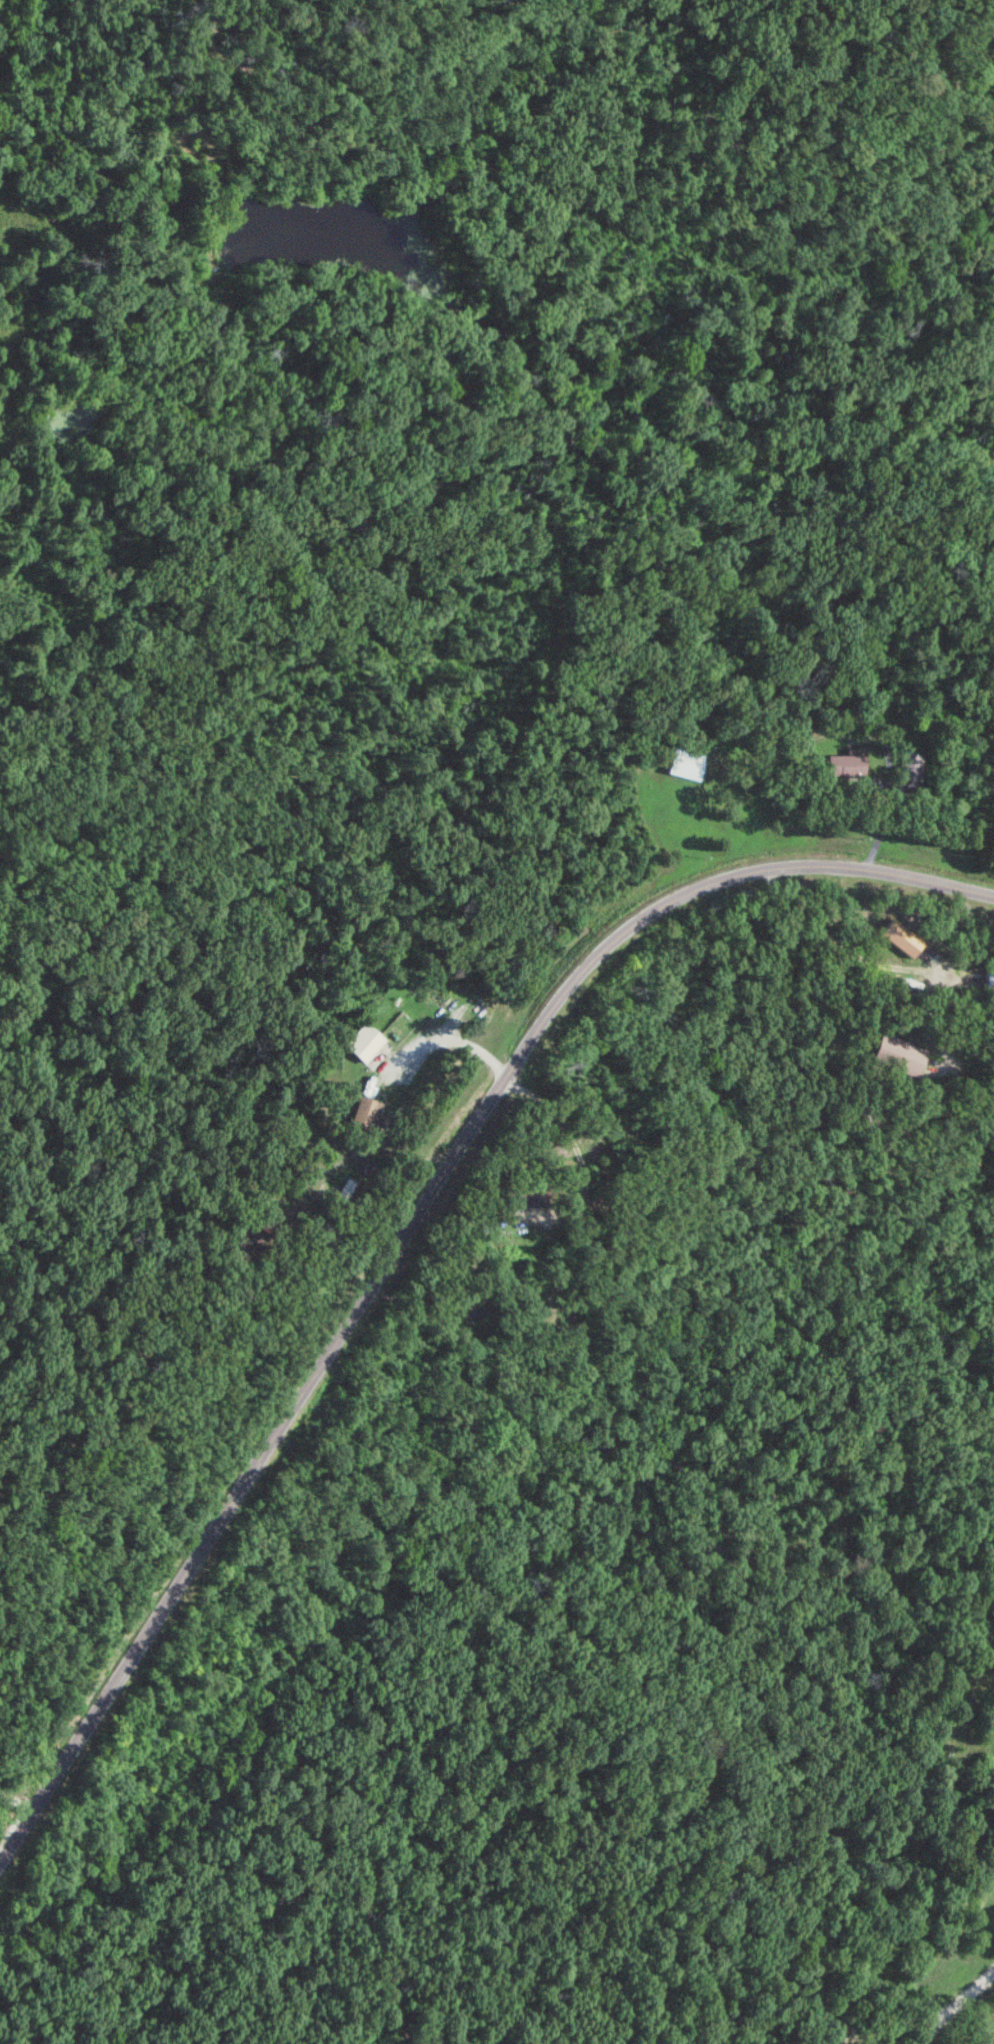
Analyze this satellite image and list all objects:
building: (686, 762)
building: (846, 762)
building: (911, 765)
building: (989, 981)
building: (365, 1042)
building: (900, 1054)
building: (363, 1113)
building: (527, 1195)
road: (410, 1225)
road: (16, 1799)
road: (958, 2010)

